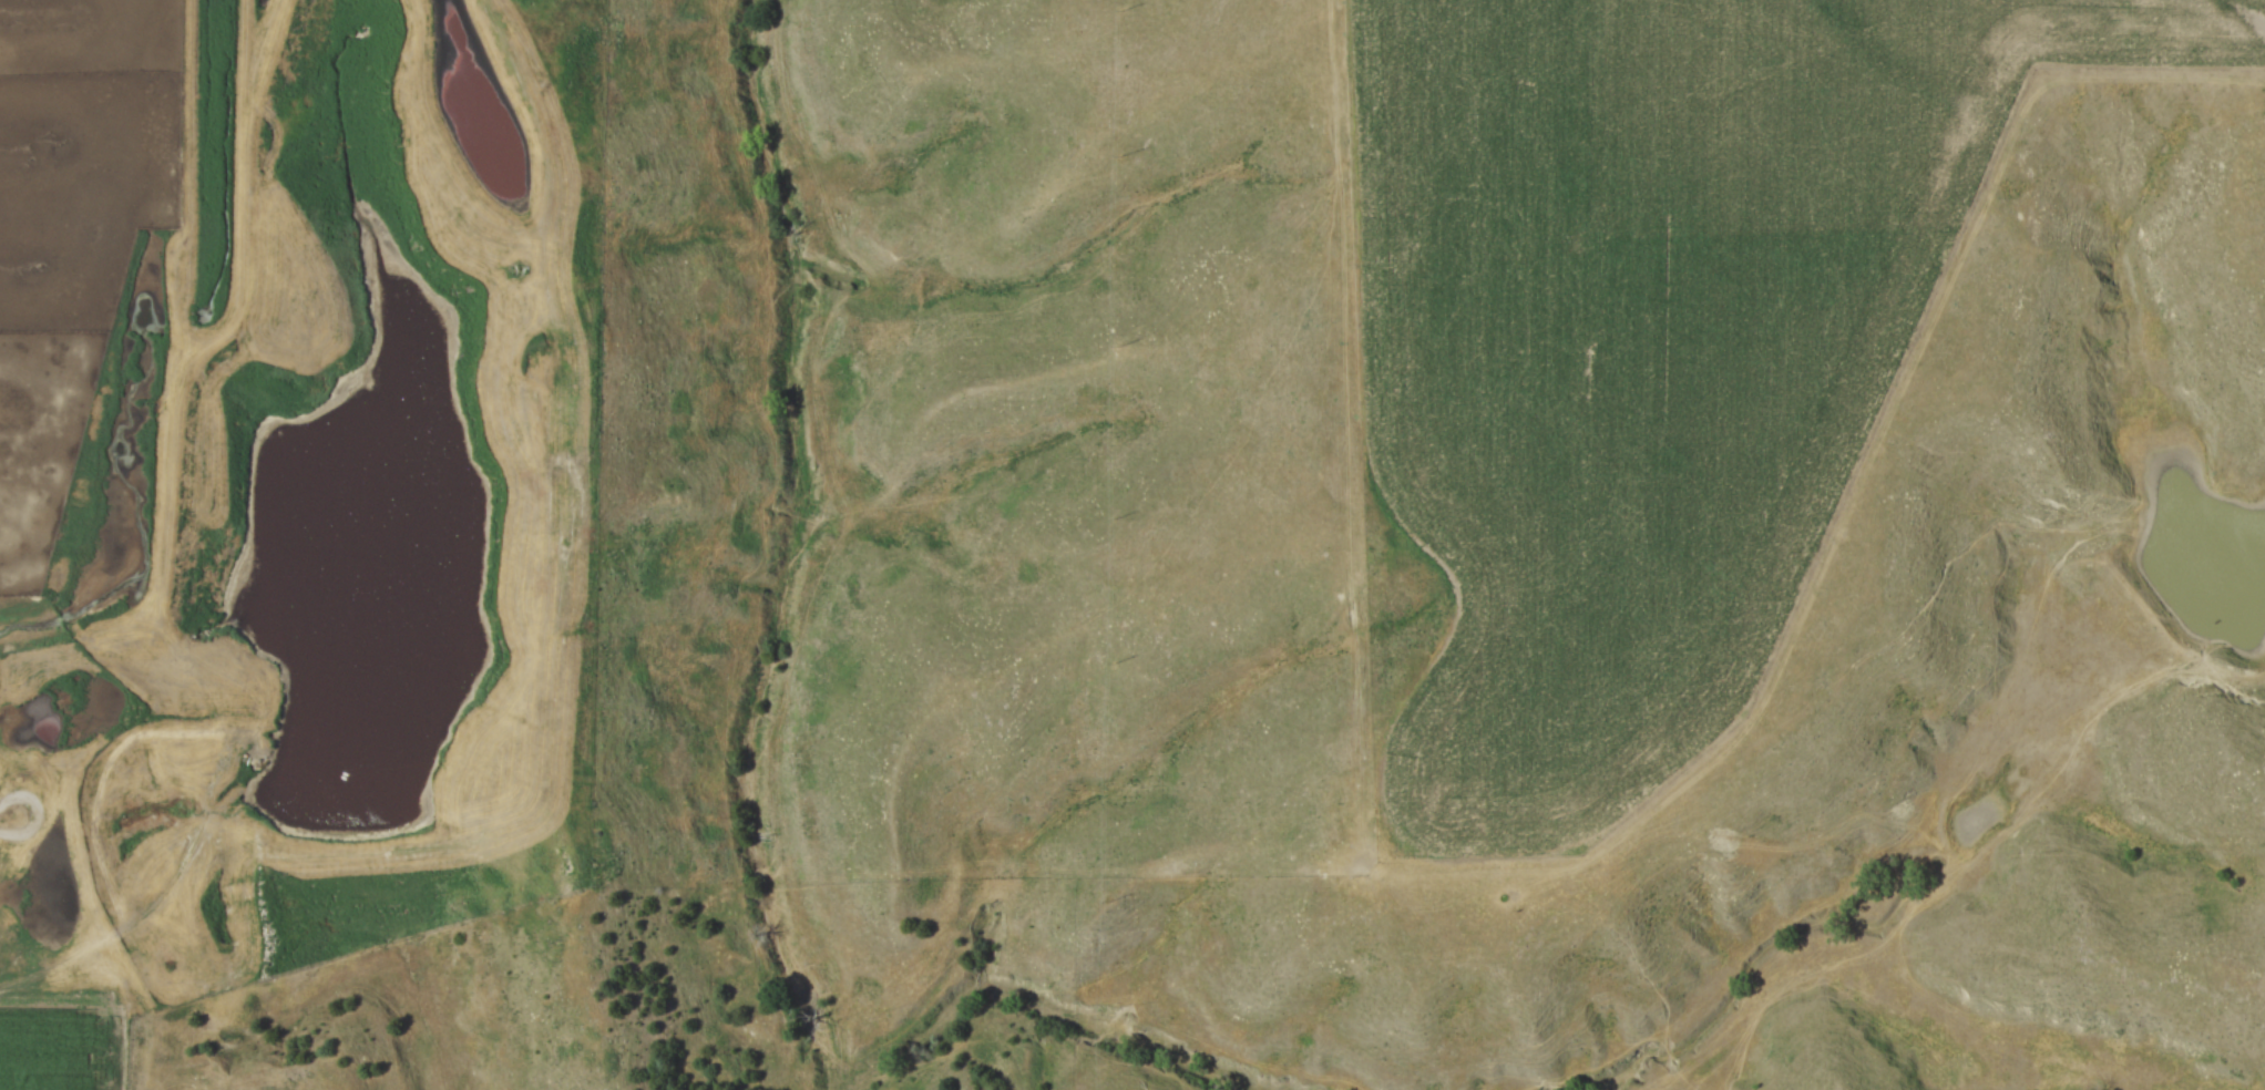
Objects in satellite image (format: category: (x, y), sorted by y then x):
crop: (1652, 339)

